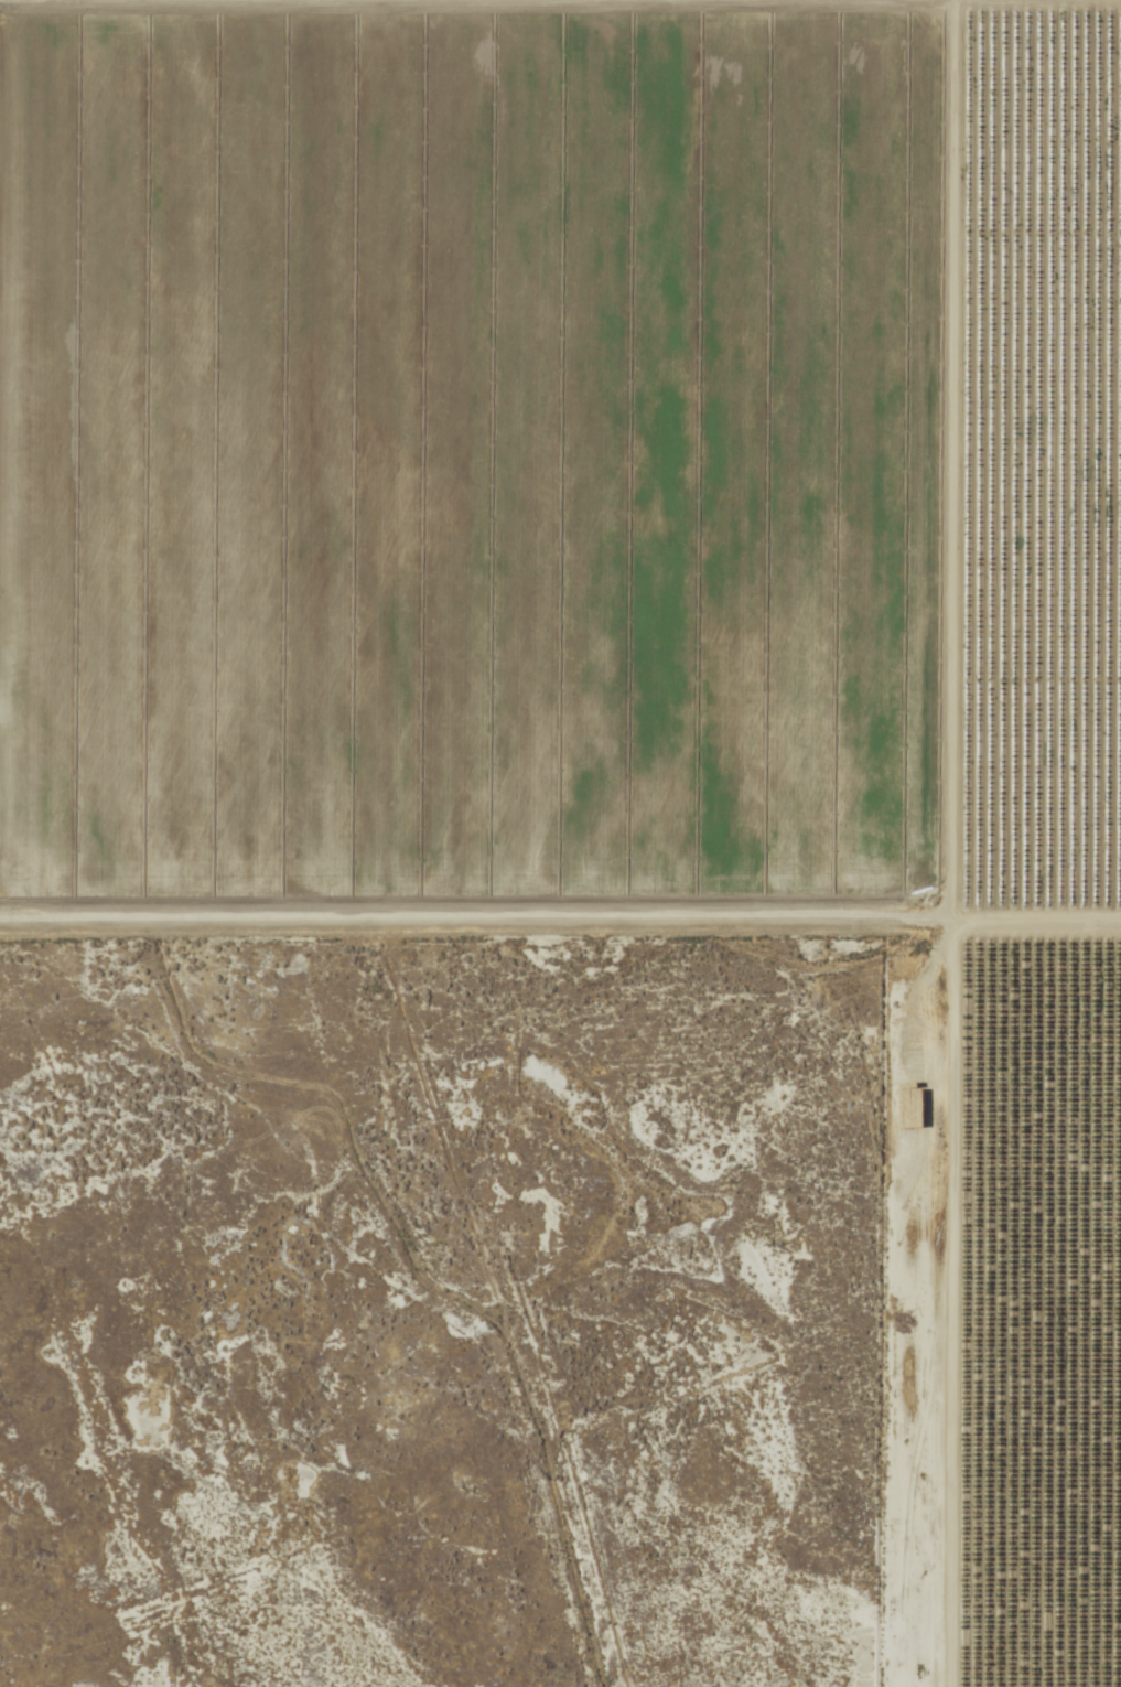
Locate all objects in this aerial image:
road: (950, 842)
road: (1036, 913)

